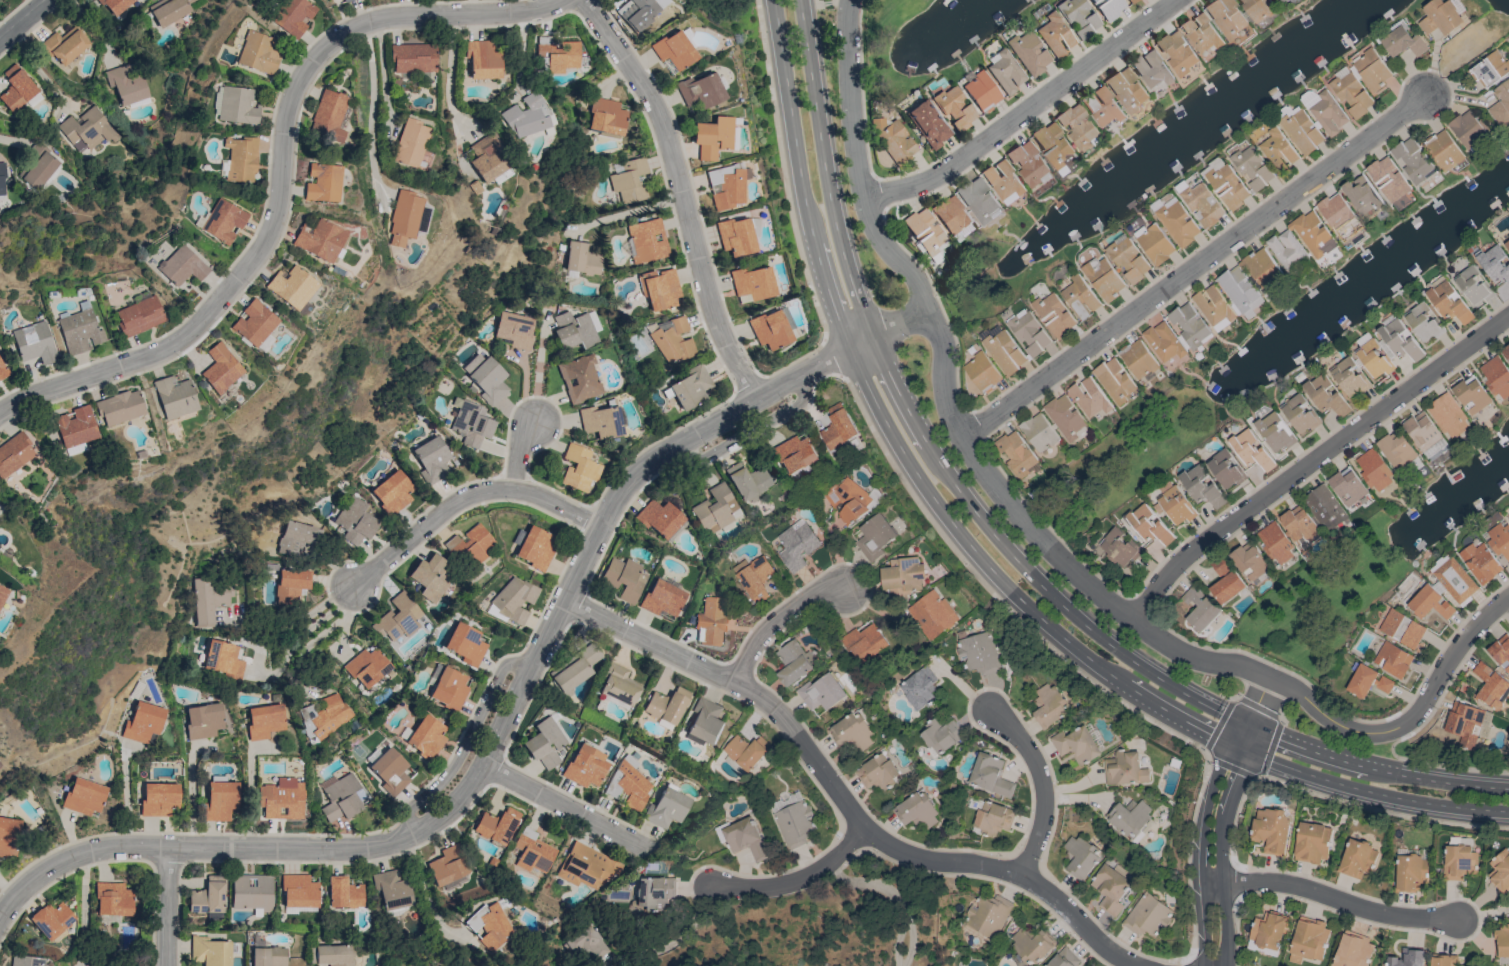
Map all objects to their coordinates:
building: (346, 0)
building: (1131, 1)
building: (1280, 1)
building: (115, 5)
road: (518, 5)
road: (825, 5)
road: (850, 5)
building: (1108, 8)
building: (1257, 9)
building: (169, 11)
building: (635, 11)
building: (294, 16)
building: (1078, 17)
building: (1226, 17)
building: (1440, 17)
road: (24, 21)
road: (97, 30)
building: (1053, 34)
building: (1202, 35)
building: (1403, 42)
building: (65, 44)
building: (1467, 48)
building: (673, 49)
building: (1029, 52)
building: (1176, 52)
building: (258, 53)
building: (559, 55)
building: (414, 58)
building: (483, 59)
building: (1151, 69)
building: (1372, 69)
building: (1490, 69)
road: (39, 71)
building: (1004, 71)
road: (383, 76)
road: (450, 79)
building: (126, 83)
building: (16, 88)
building: (700, 90)
building: (1126, 90)
building: (981, 91)
road: (862, 93)
building: (1351, 94)
building: (238, 105)
road: (368, 105)
building: (1501, 105)
building: (1101, 106)
building: (954, 107)
road: (1026, 110)
building: (1328, 114)
building: (329, 115)
building: (528, 116)
building: (606, 116)
building: (926, 124)
building: (1077, 126)
building: (1467, 129)
building: (86, 130)
building: (1302, 132)
building: (711, 137)
building: (892, 139)
building: (412, 143)
building: (1054, 146)
building: (1276, 149)
building: (1443, 150)
building: (241, 158)
building: (488, 158)
building: (1412, 161)
building: (1028, 164)
building: (1252, 168)
building: (39, 169)
road: (782, 170)
road: (281, 179)
building: (1388, 179)
building: (2, 180)
building: (630, 181)
building: (323, 182)
building: (1003, 182)
building: (726, 186)
building: (1227, 186)
road: (683, 193)
road: (879, 195)
building: (1362, 196)
building: (979, 200)
building: (1202, 205)
building: (1335, 212)
road: (627, 213)
building: (951, 214)
building: (405, 218)
building: (224, 220)
building: (1176, 222)
building: (752, 227)
road: (874, 229)
building: (924, 231)
building: (1313, 234)
building: (734, 236)
building: (320, 240)
building: (647, 240)
building: (1154, 243)
building: (1507, 243)
building: (1287, 250)
building: (1508, 257)
building: (582, 258)
building: (1128, 259)
building: (1494, 263)
building: (182, 266)
road: (1194, 267)
building: (1261, 268)
building: (1103, 278)
building: (751, 283)
building: (1474, 285)
building: (292, 287)
building: (660, 289)
building: (1238, 290)
building: (1080, 297)
building: (1449, 302)
building: (1212, 305)
road: (940, 306)
road: (861, 307)
road: (837, 314)
building: (1054, 314)
building: (139, 316)
building: (254, 323)
building: (1424, 323)
building: (1189, 326)
building: (515, 329)
building: (575, 329)
building: (769, 329)
building: (80, 331)
building: (1029, 332)
building: (1399, 338)
building: (672, 340)
building: (34, 342)
building: (1163, 342)
building: (1506, 351)
building: (1004, 352)
road: (834, 355)
building: (1373, 356)
building: (1138, 360)
building: (220, 368)
building: (981, 372)
building: (1496, 376)
building: (1349, 377)
building: (486, 378)
building: (579, 378)
building: (1114, 380)
building: (690, 387)
building: (1471, 394)
building: (175, 396)
building: (1325, 396)
building: (1088, 397)
building: (120, 407)
building: (1300, 414)
building: (1447, 415)
building: (1065, 419)
building: (600, 421)
building: (471, 424)
building: (76, 426)
building: (837, 427)
road: (975, 428)
building: (1274, 431)
building: (1038, 432)
building: (1424, 434)
building: (1396, 449)
building: (1253, 450)
road: (518, 453)
building: (14, 454)
building: (1016, 454)
building: (794, 455)
building: (432, 458)
road: (1314, 460)
building: (578, 468)
building: (1225, 469)
building: (1373, 470)
building: (748, 481)
building: (1201, 486)
building: (1347, 486)
building: (392, 492)
road: (465, 500)
building: (848, 501)
building: (1172, 503)
building: (1324, 507)
building: (716, 508)
building: (1508, 515)
building: (660, 518)
building: (355, 521)
building: (1147, 524)
road: (1047, 528)
building: (1287, 534)
building: (295, 537)
building: (874, 537)
building: (1498, 538)
building: (470, 545)
building: (796, 545)
building: (1120, 546)
building: (535, 548)
building: (1249, 561)
building: (1480, 561)
building: (901, 576)
building: (430, 577)
building: (623, 578)
building: (753, 578)
building: (1454, 579)
building: (1225, 581)
building: (292, 584)
building: (2, 593)
road: (991, 595)
building: (662, 598)
building: (209, 600)
building: (513, 600)
building: (1430, 603)
road: (1141, 605)
building: (1200, 608)
building: (930, 614)
building: (398, 617)
road: (778, 618)
building: (710, 621)
road: (315, 623)
building: (1401, 628)
building: (864, 643)
building: (465, 644)
building: (1501, 651)
building: (978, 652)
building: (224, 659)
road: (689, 659)
road: (1130, 660)
building: (1393, 660)
building: (792, 663)
road: (1231, 663)
road: (1274, 666)
building: (367, 667)
building: (575, 668)
road: (1115, 678)
building: (1366, 681)
building: (619, 686)
building: (1491, 686)
building: (449, 688)
building: (919, 688)
building: (821, 693)
building: (667, 705)
building: (1050, 706)
road: (1256, 707)
road: (510, 709)
building: (203, 720)
building: (264, 720)
building: (143, 722)
building: (704, 722)
building: (1464, 723)
road: (1218, 725)
road: (1396, 727)
building: (851, 732)
building: (940, 735)
building: (424, 736)
traffic signals: (1243, 737)
building: (544, 742)
road: (463, 745)
building: (1077, 745)
road: (1268, 748)
building: (745, 752)
road: (1439, 764)
building: (585, 766)
road: (1231, 767)
building: (1125, 768)
building: (390, 771)
building: (876, 773)
building: (989, 775)
road: (1373, 780)
road: (1040, 782)
building: (628, 783)
road: (193, 791)
road: (251, 794)
road: (129, 795)
building: (84, 796)
building: (340, 797)
building: (159, 799)
building: (280, 799)
building: (220, 800)
road: (560, 804)
building: (666, 808)
building: (917, 810)
road: (1380, 812)
road: (1213, 817)
building: (993, 818)
building: (791, 819)
building: (1130, 819)
building: (497, 825)
building: (1272, 830)
building: (8, 836)
building: (742, 838)
building: (1313, 843)
building: (533, 853)
road: (959, 854)
building: (1080, 857)
building: (1357, 859)
building: (1459, 862)
building: (448, 865)
building: (587, 866)
building: (1500, 872)
building: (1411, 873)
road: (799, 876)
building: (392, 888)
building: (1110, 889)
building: (251, 891)
building: (299, 891)
building: (656, 892)
building: (344, 893)
building: (208, 896)
road: (428, 896)
road: (895, 897)
road: (1334, 898)
building: (113, 899)
road: (168, 907)
road: (84, 910)
road: (1482, 913)
building: (988, 915)
building: (1147, 915)
building: (51, 920)
building: (491, 926)
building: (1268, 933)
road: (678, 938)
building: (1308, 940)
building: (1502, 941)
building: (589, 942)
building: (1033, 944)
building: (1353, 950)
building: (210, 951)
building: (332, 955)
building: (267, 956)
building: (1064, 958)
building: (1407, 958)
building: (1444, 960)
building: (27, 961)

